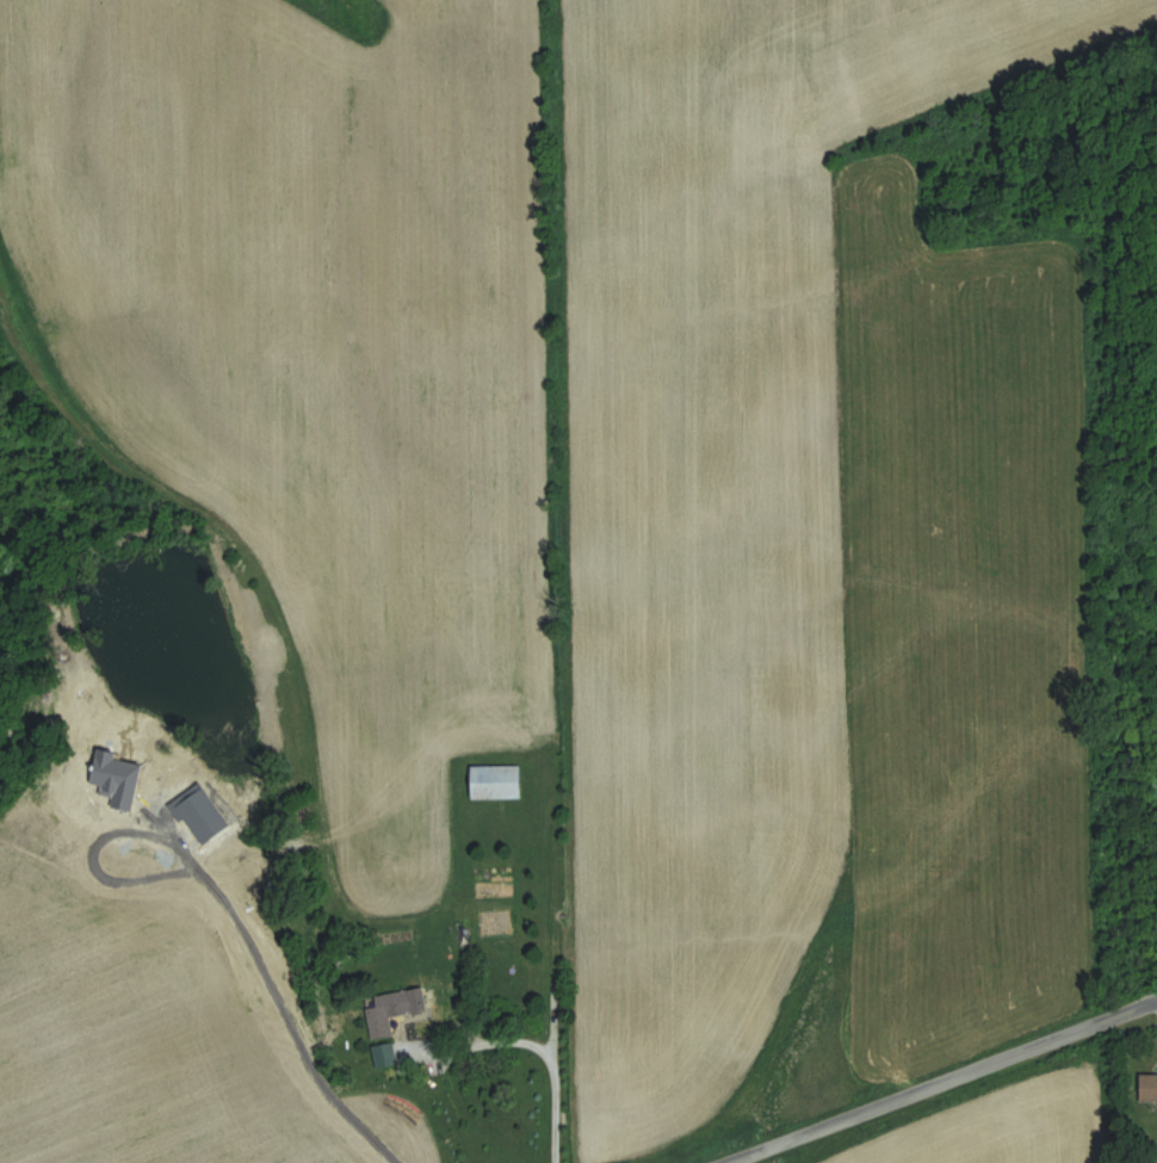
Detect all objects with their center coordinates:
building: (496, 781)
road: (555, 960)
building: (388, 1012)
road: (484, 1039)
road: (940, 1076)
building: (1147, 1089)

